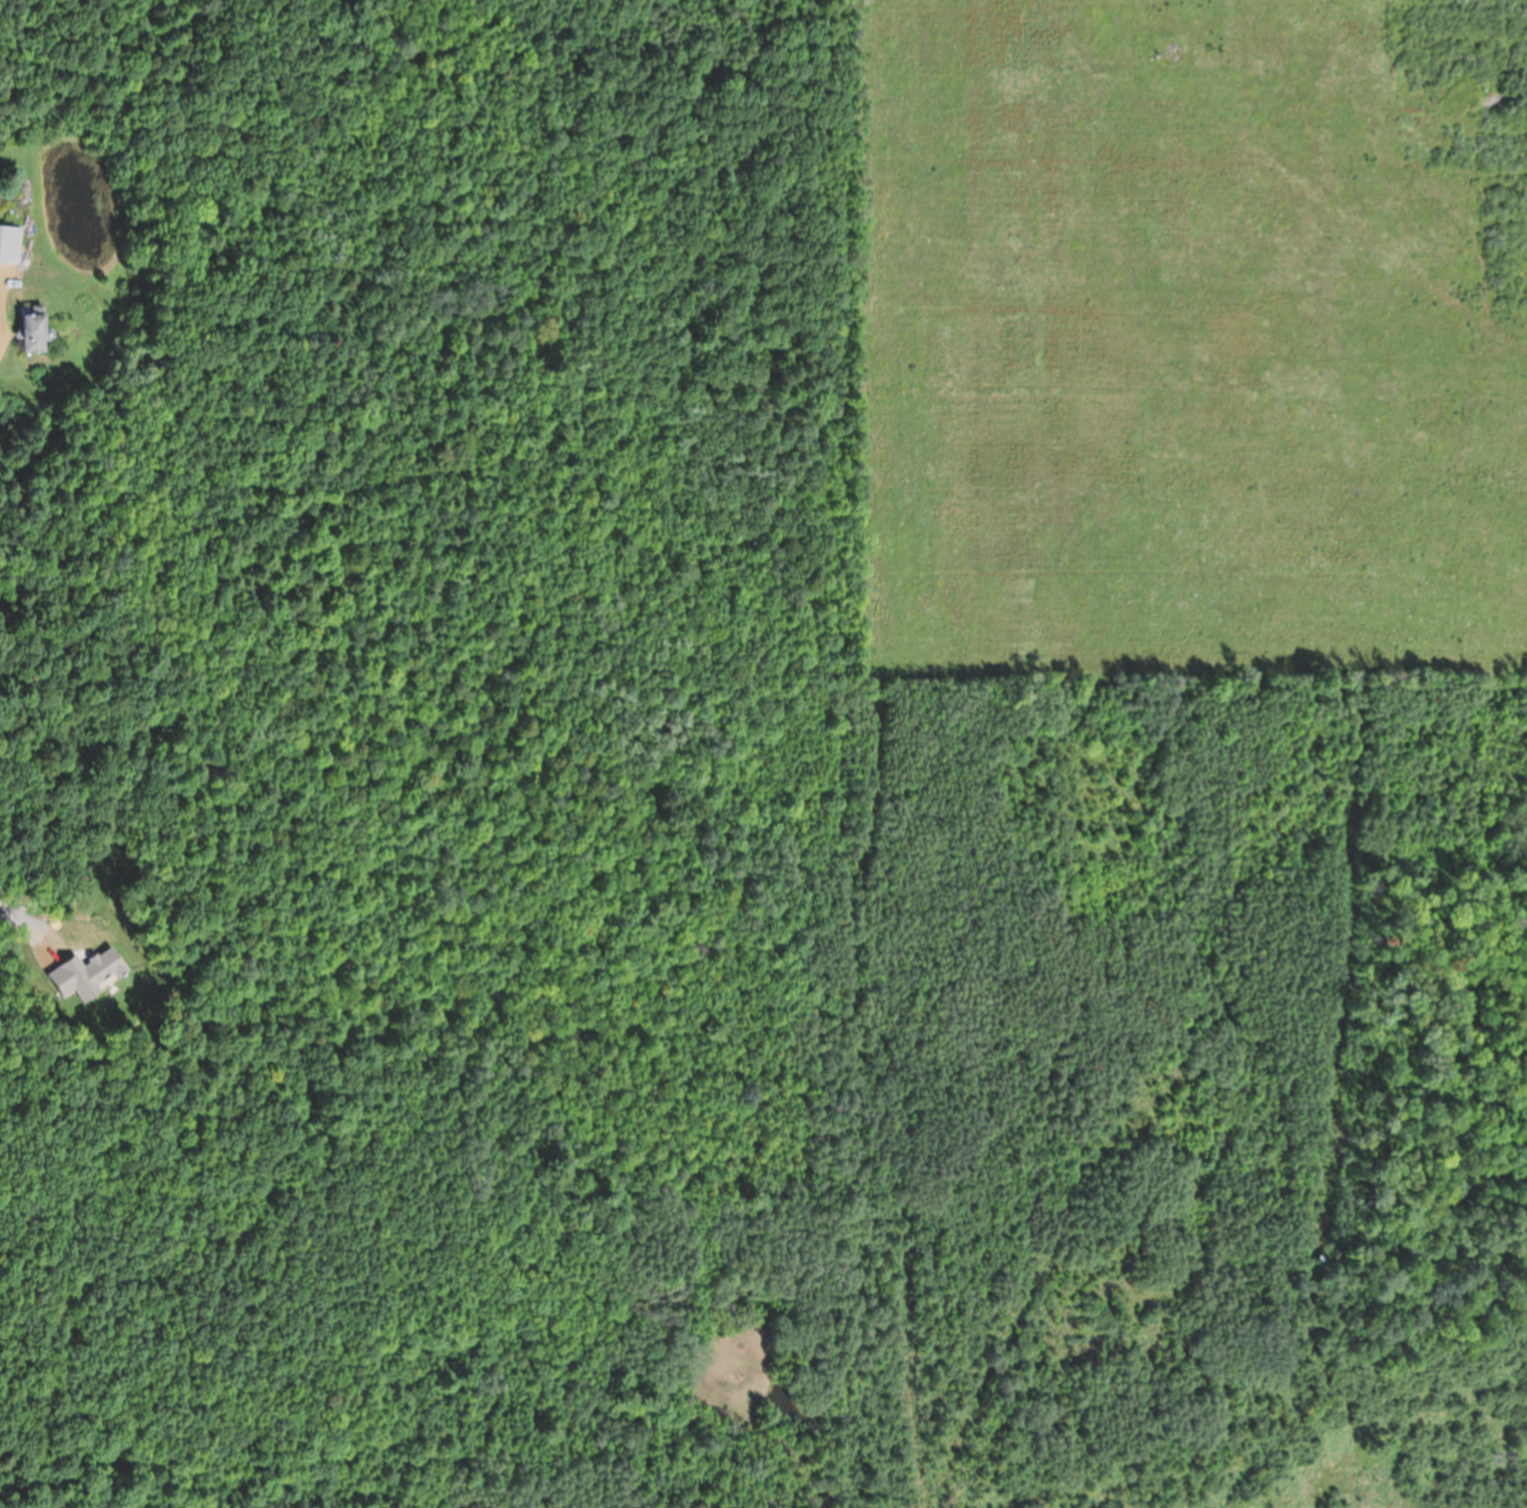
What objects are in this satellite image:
building: (9, 244)
building: (34, 331)

